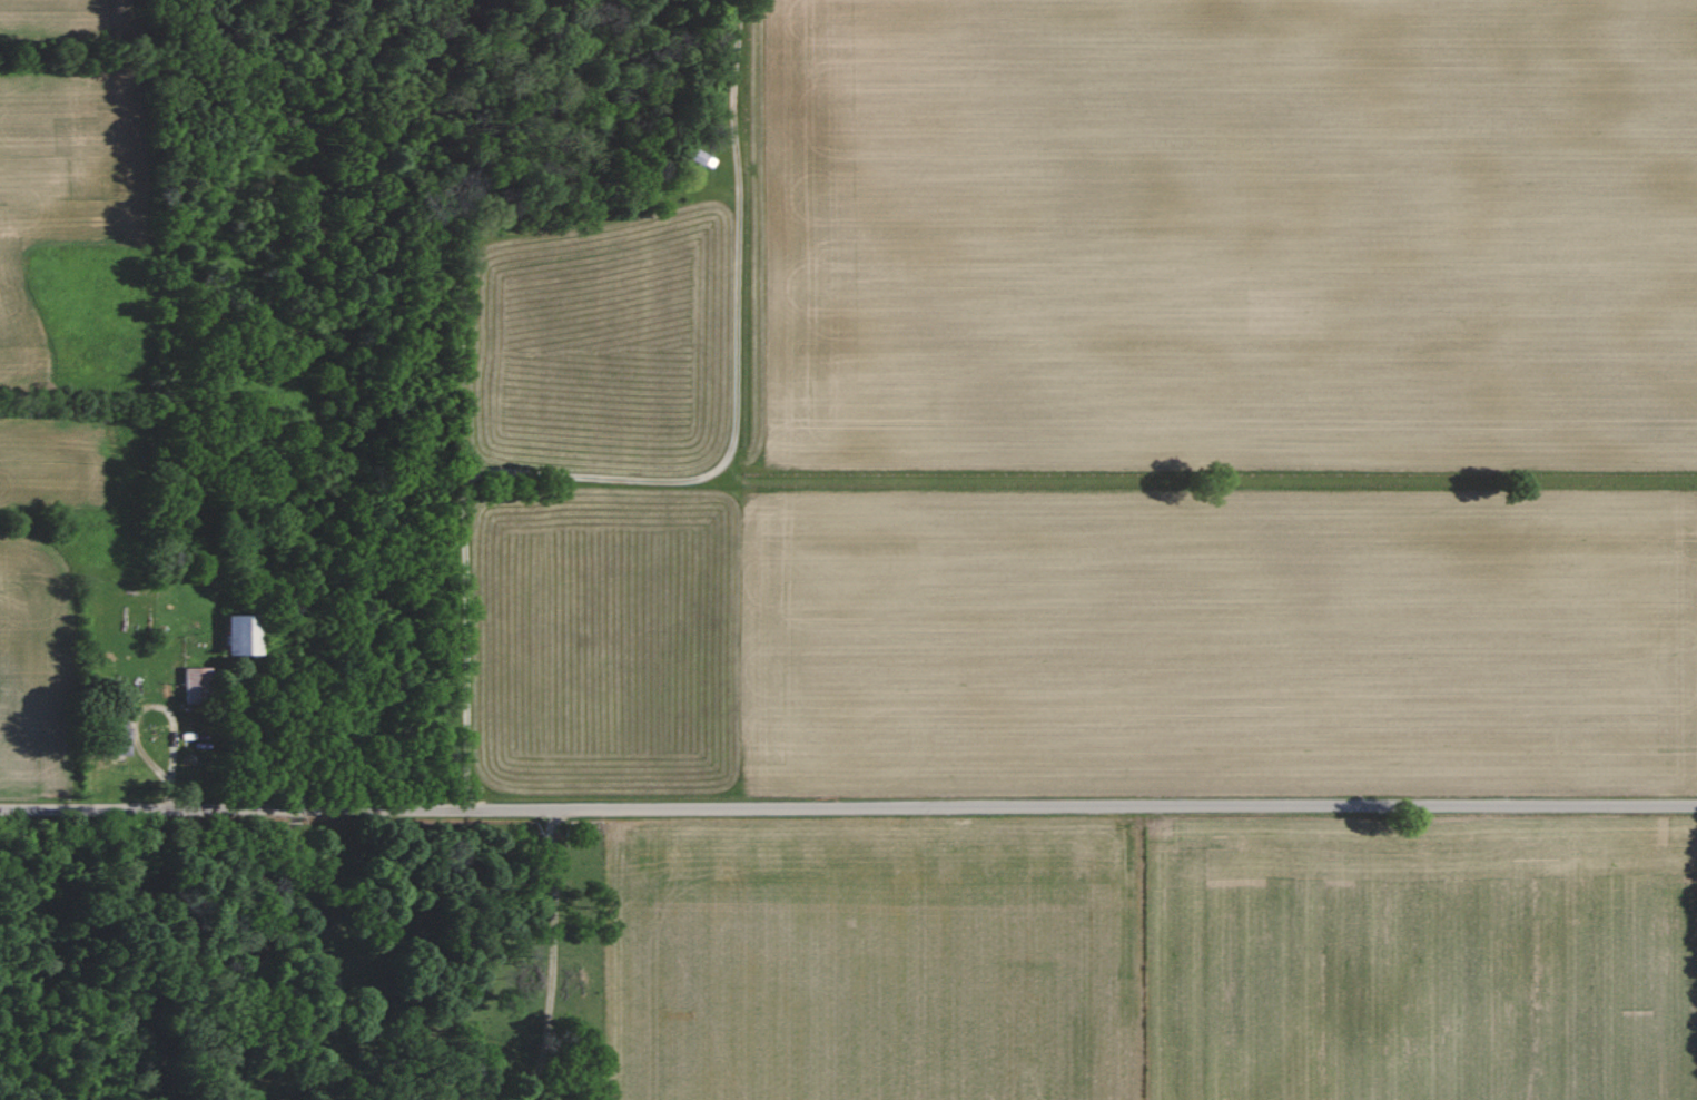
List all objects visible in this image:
road: (663, 479)
building: (234, 636)
building: (191, 684)
building: (109, 738)
road: (848, 807)

